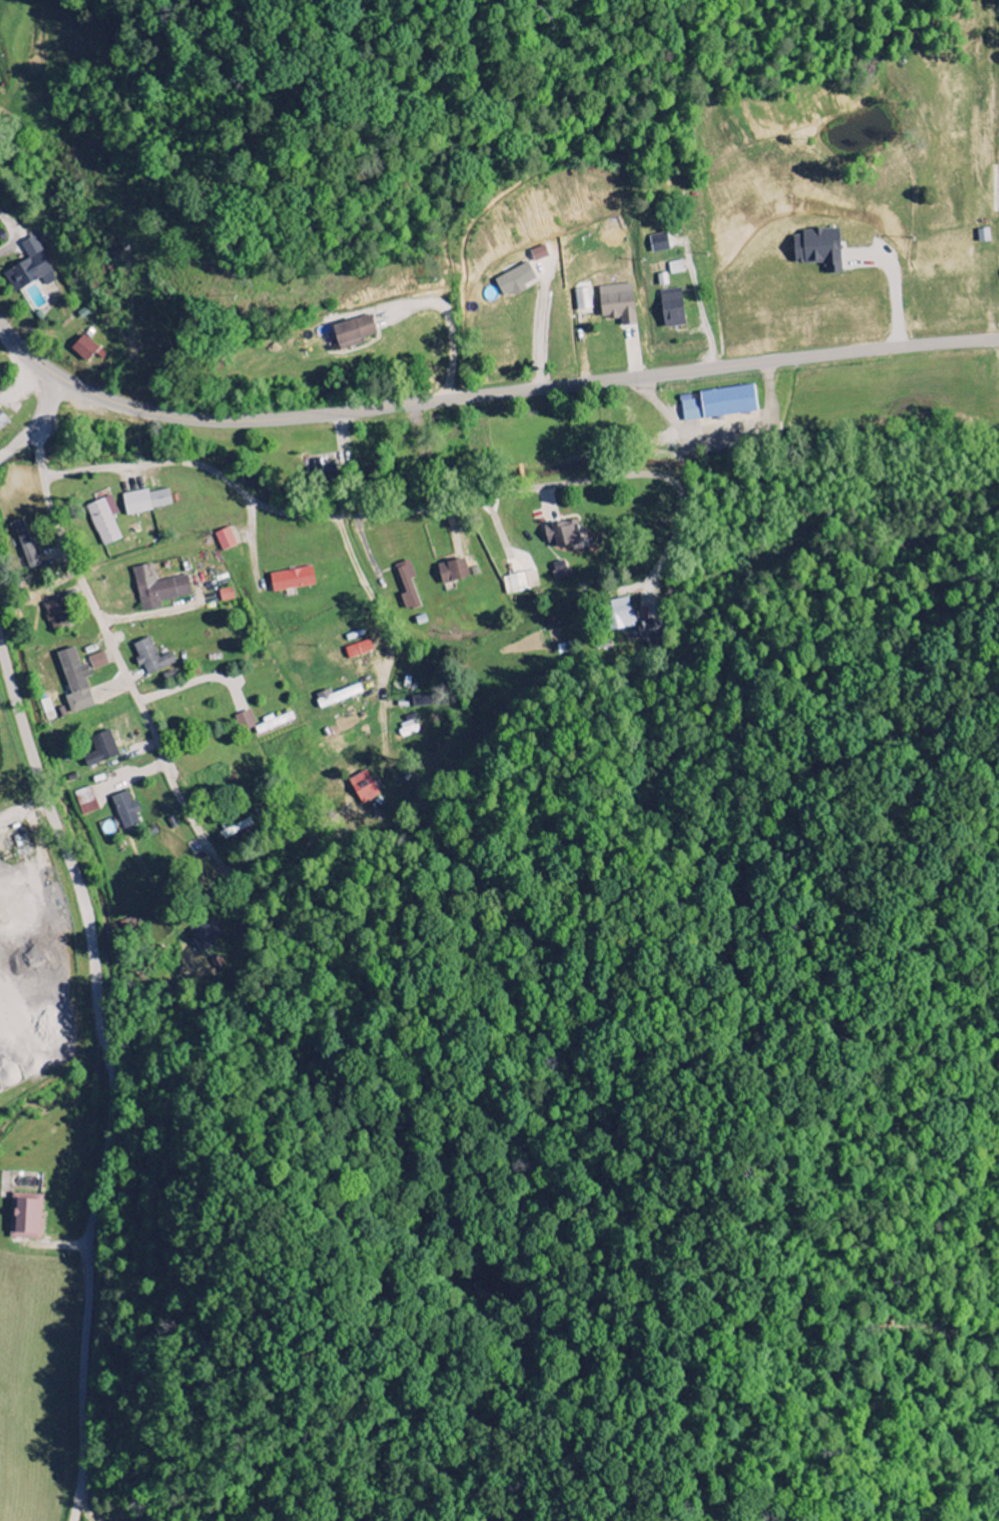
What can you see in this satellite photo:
building: (659, 244)
building: (818, 249)
building: (29, 268)
building: (676, 268)
building: (663, 280)
building: (514, 281)
building: (583, 302)
building: (618, 308)
building: (672, 309)
building: (354, 332)
building: (84, 349)
road: (486, 395)
building: (720, 404)
road: (36, 420)
building: (3, 421)
building: (322, 469)
building: (145, 502)
road: (388, 513)
building: (104, 521)
building: (562, 535)
building: (225, 540)
building: (24, 544)
building: (560, 570)
building: (452, 572)
building: (292, 580)
building: (521, 583)
building: (408, 588)
building: (158, 589)
building: (227, 595)
building: (57, 615)
building: (621, 615)
building: (652, 629)
road: (109, 641)
building: (359, 650)
building: (151, 658)
building: (98, 662)
building: (75, 682)
building: (337, 697)
building: (245, 722)
building: (274, 723)
building: (101, 750)
building: (363, 788)
building: (86, 801)
building: (126, 811)
building: (205, 935)
road: (109, 1078)
building: (25, 1216)

